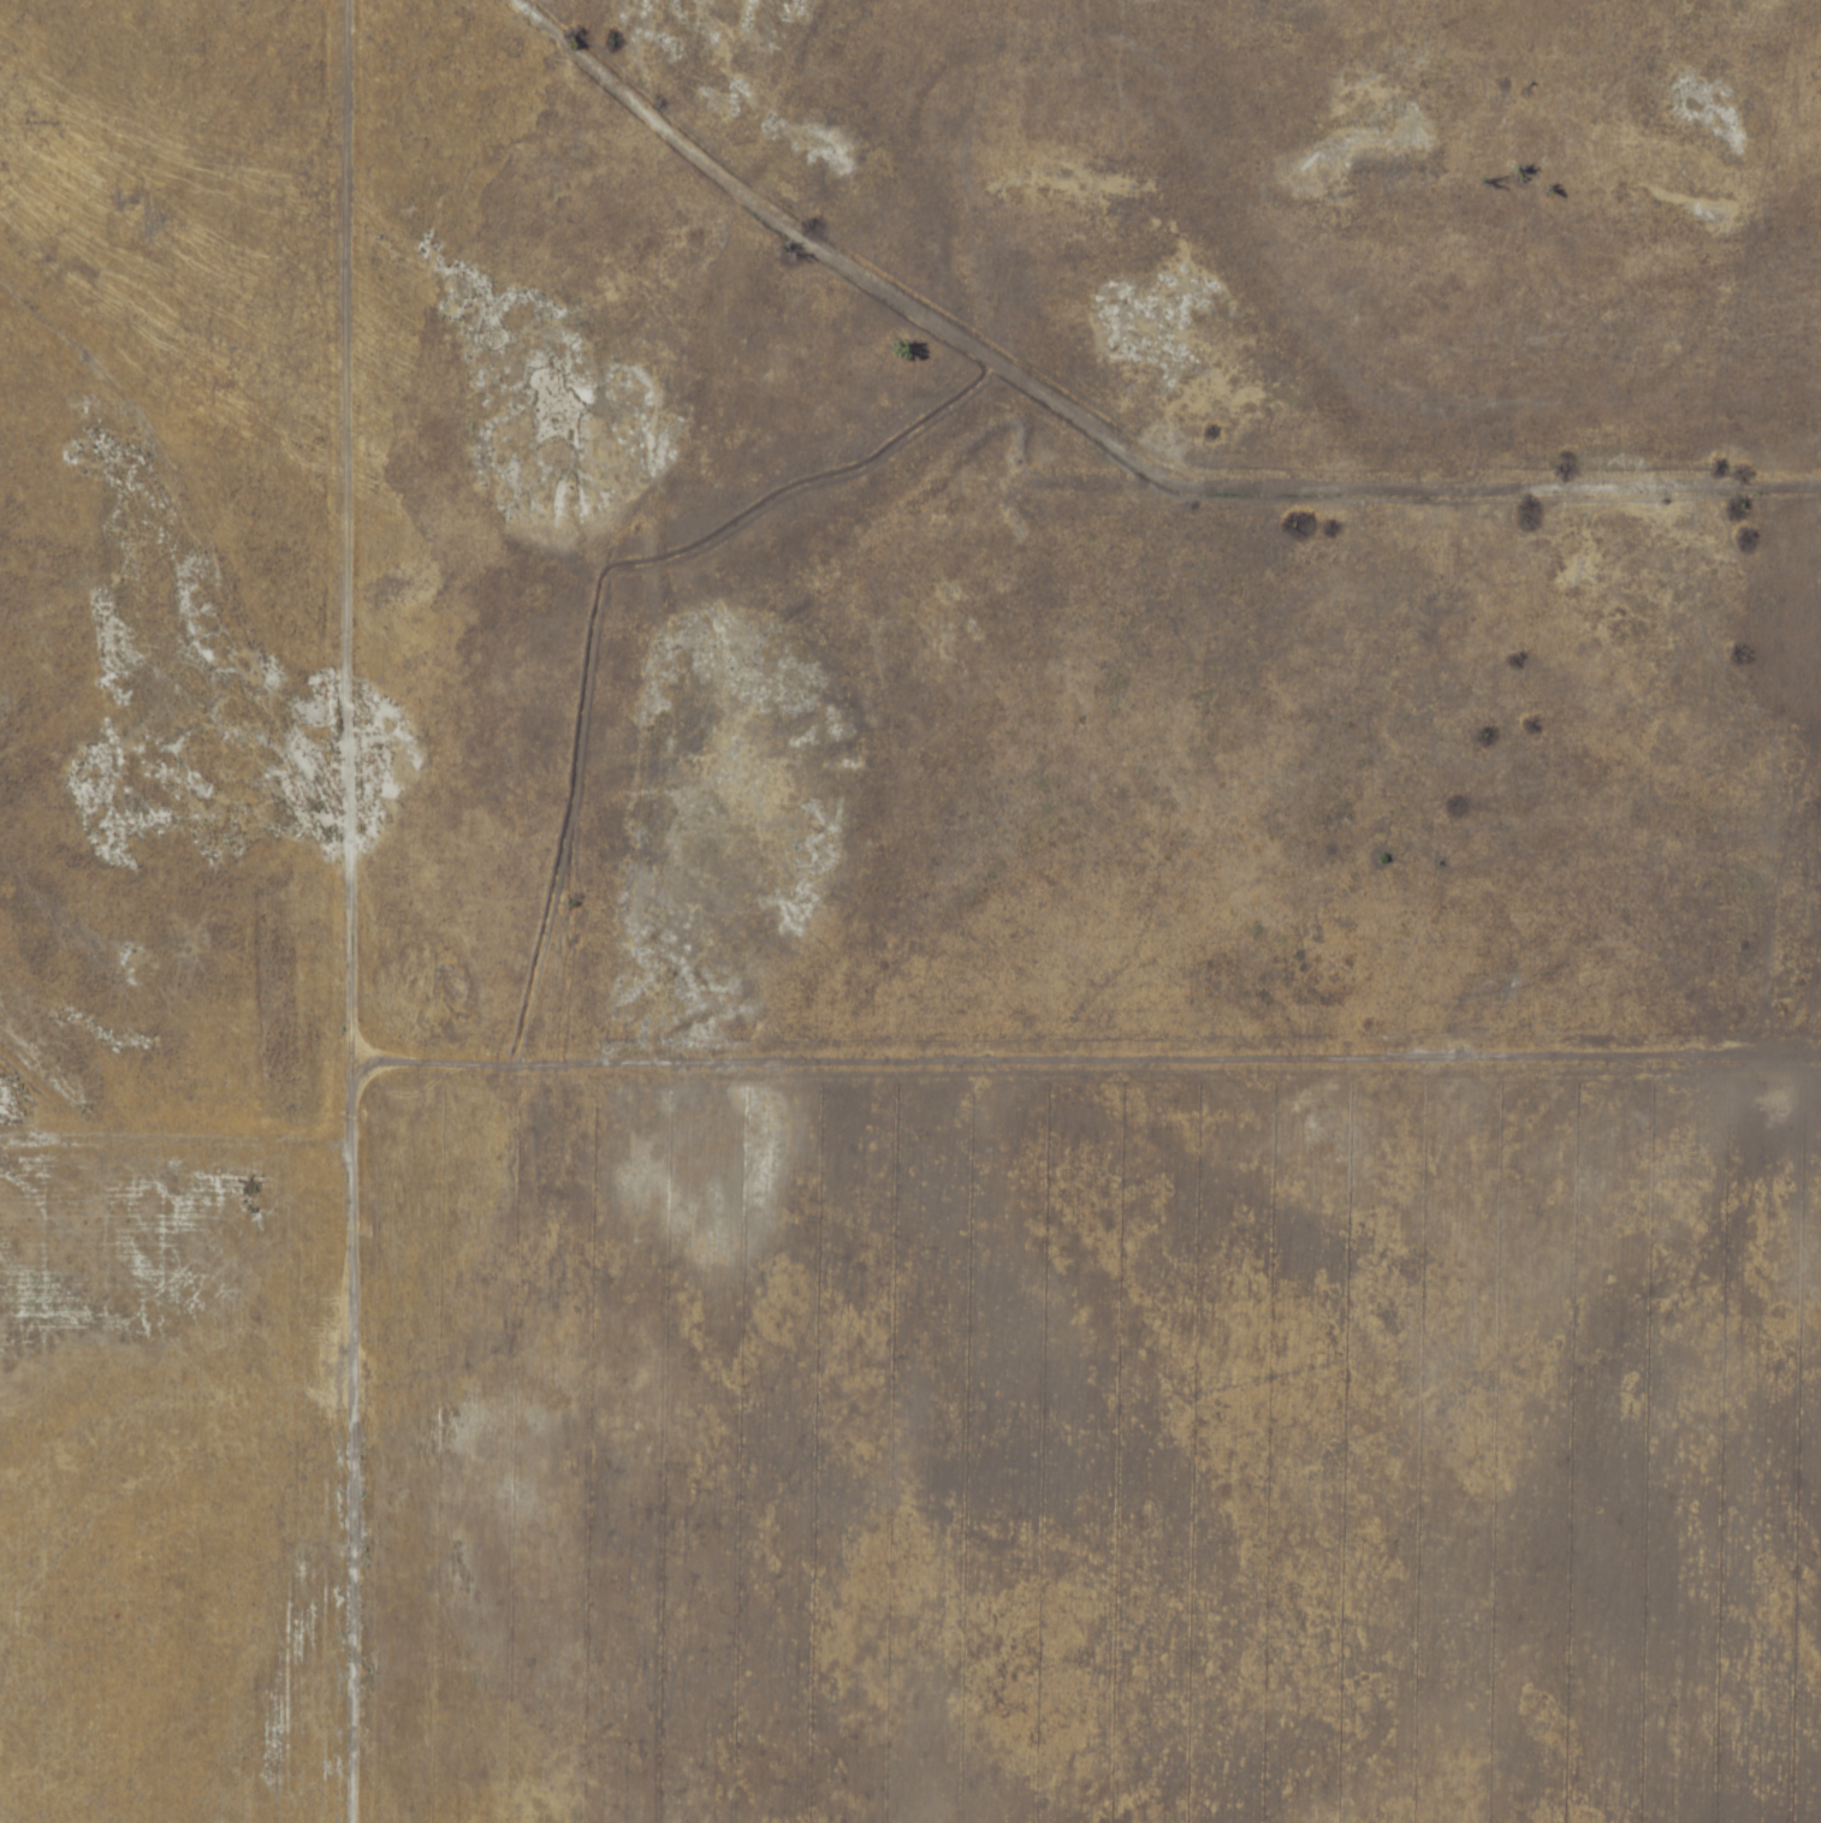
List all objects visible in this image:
crop: (1089, 1443)

